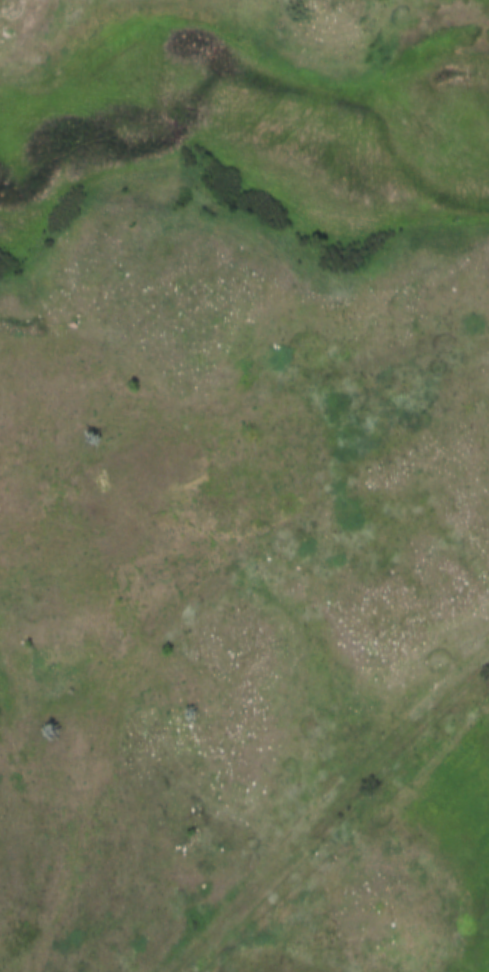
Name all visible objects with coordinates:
road: (88, 810)
road: (330, 814)

